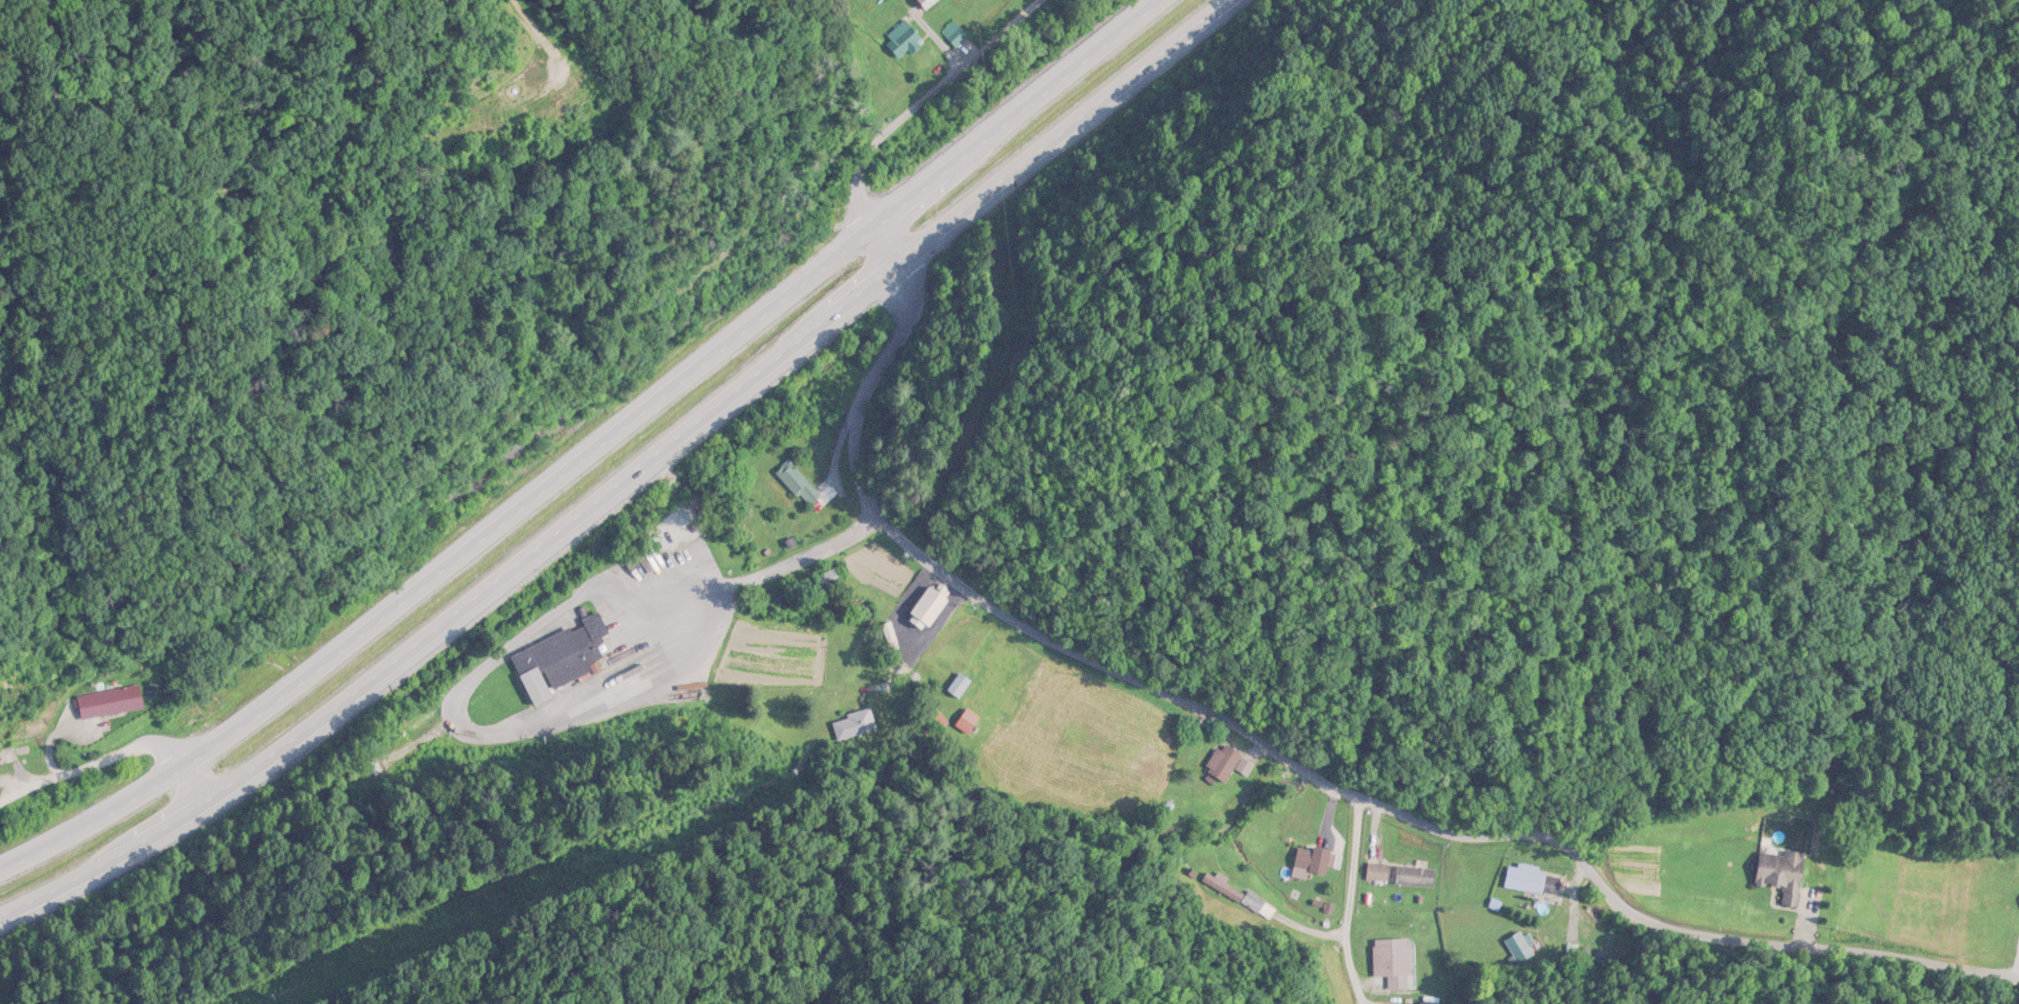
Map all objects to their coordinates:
building: (927, 3)
road: (902, 120)
road: (591, 450)
road: (629, 478)
building: (798, 486)
building: (832, 579)
building: (559, 659)
building: (110, 704)
road: (117, 761)
building: (1226, 765)
road: (1269, 766)
building: (1782, 876)
building: (1533, 881)
building: (1520, 948)

